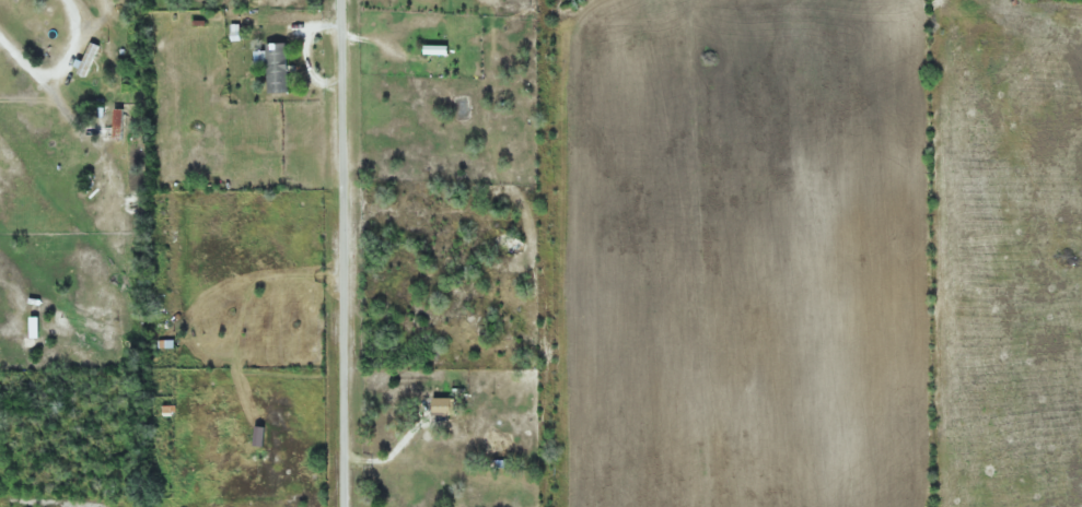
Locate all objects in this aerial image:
building: (89, 58)
building: (279, 68)
road: (339, 253)
building: (428, 439)

